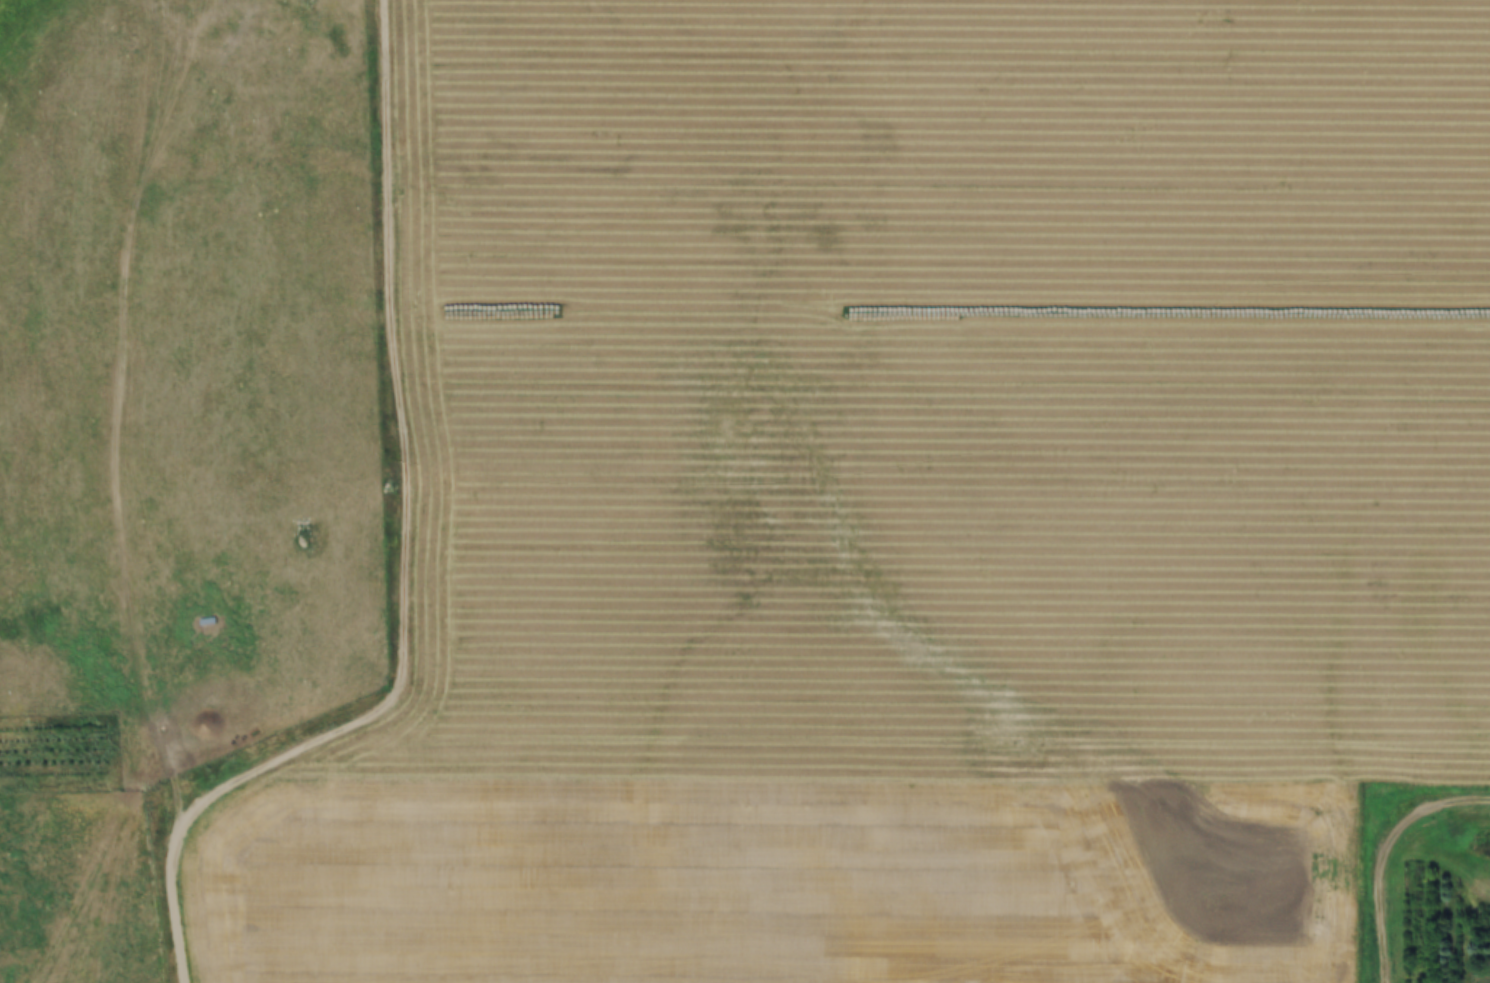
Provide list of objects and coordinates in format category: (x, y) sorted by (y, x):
road: (404, 554)
road: (1398, 892)

